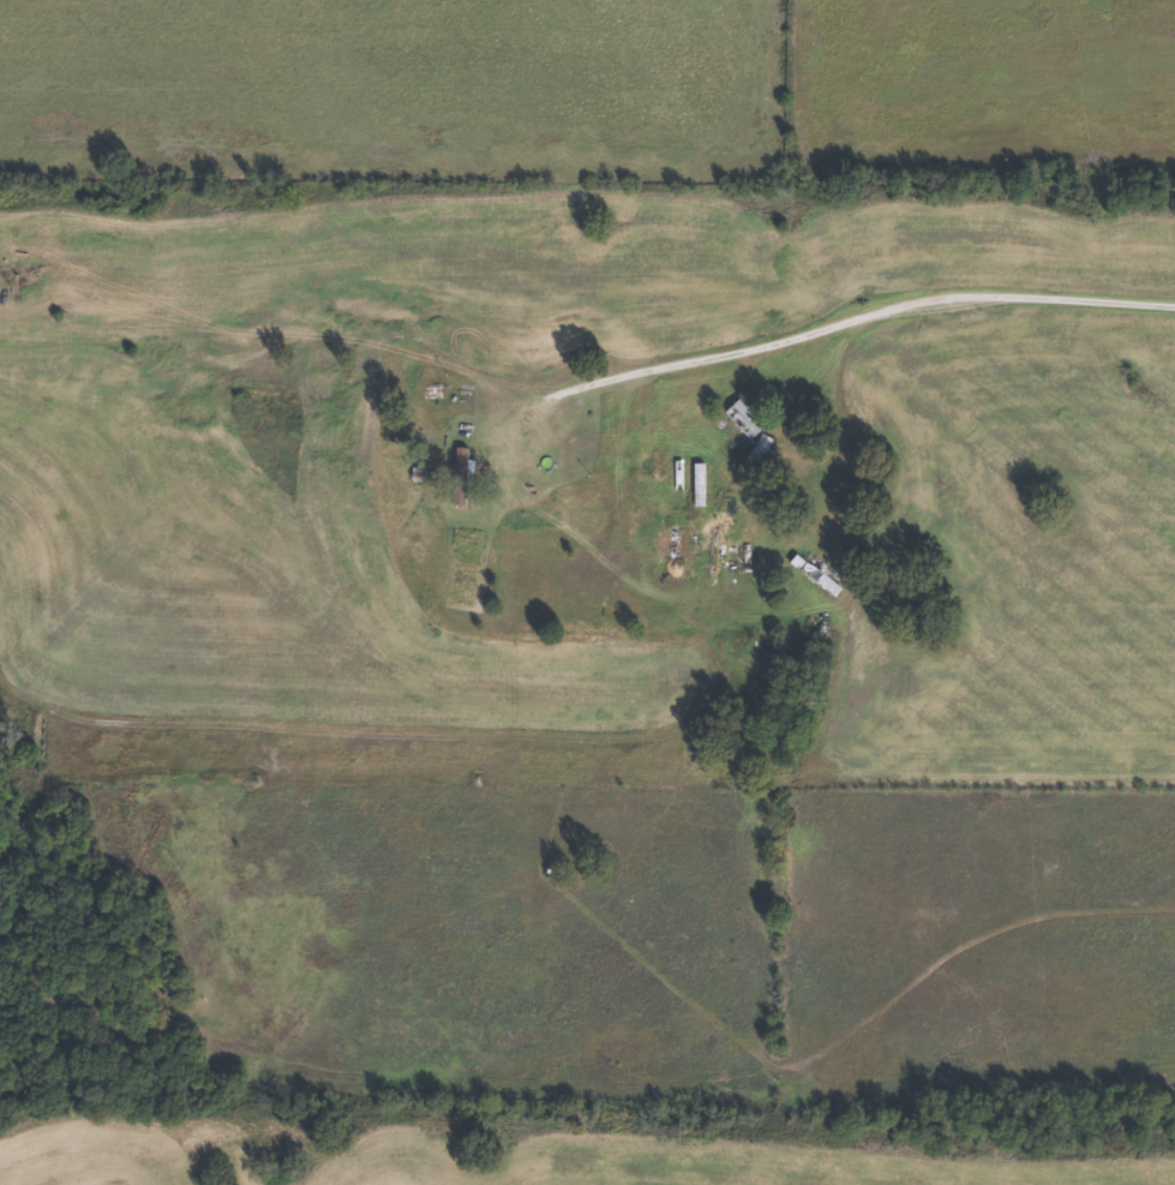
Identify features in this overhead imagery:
road: (587, 233)
building: (747, 417)
building: (724, 456)
building: (416, 474)

